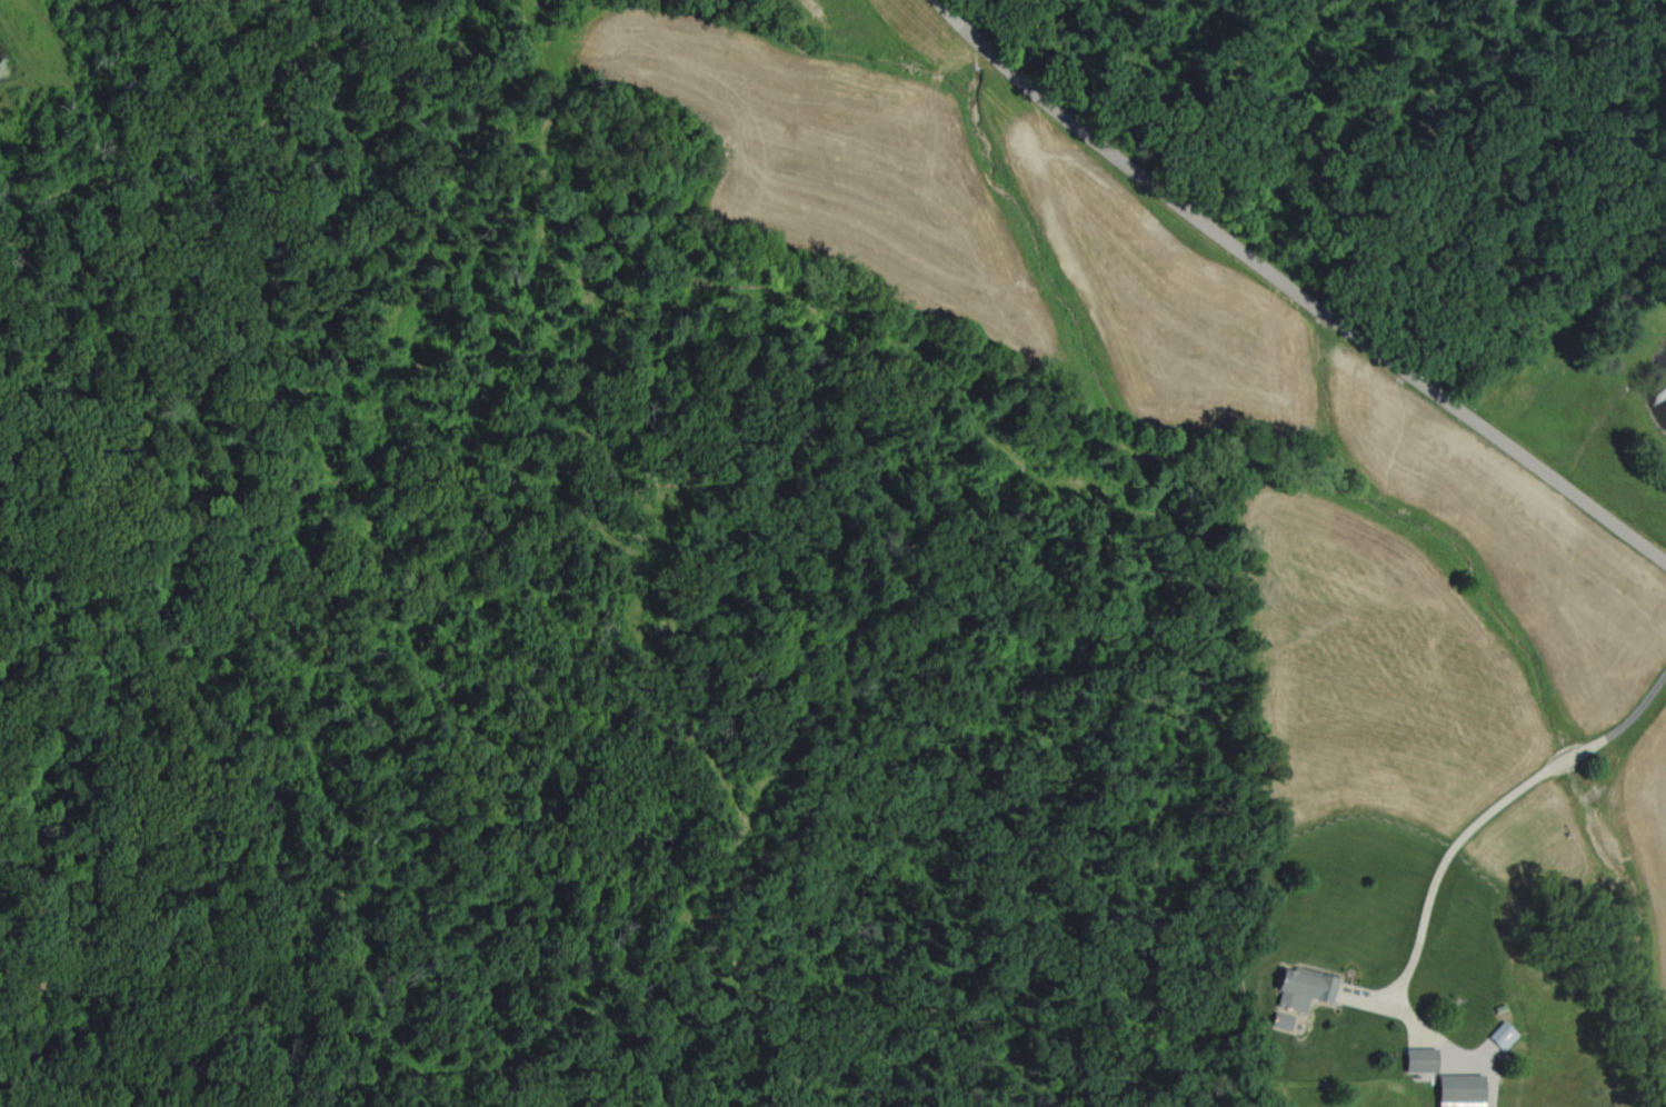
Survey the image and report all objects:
road: (1289, 292)
building: (1300, 987)
building: (1279, 1020)
building: (1499, 1034)
building: (1417, 1058)
building: (1456, 1089)

